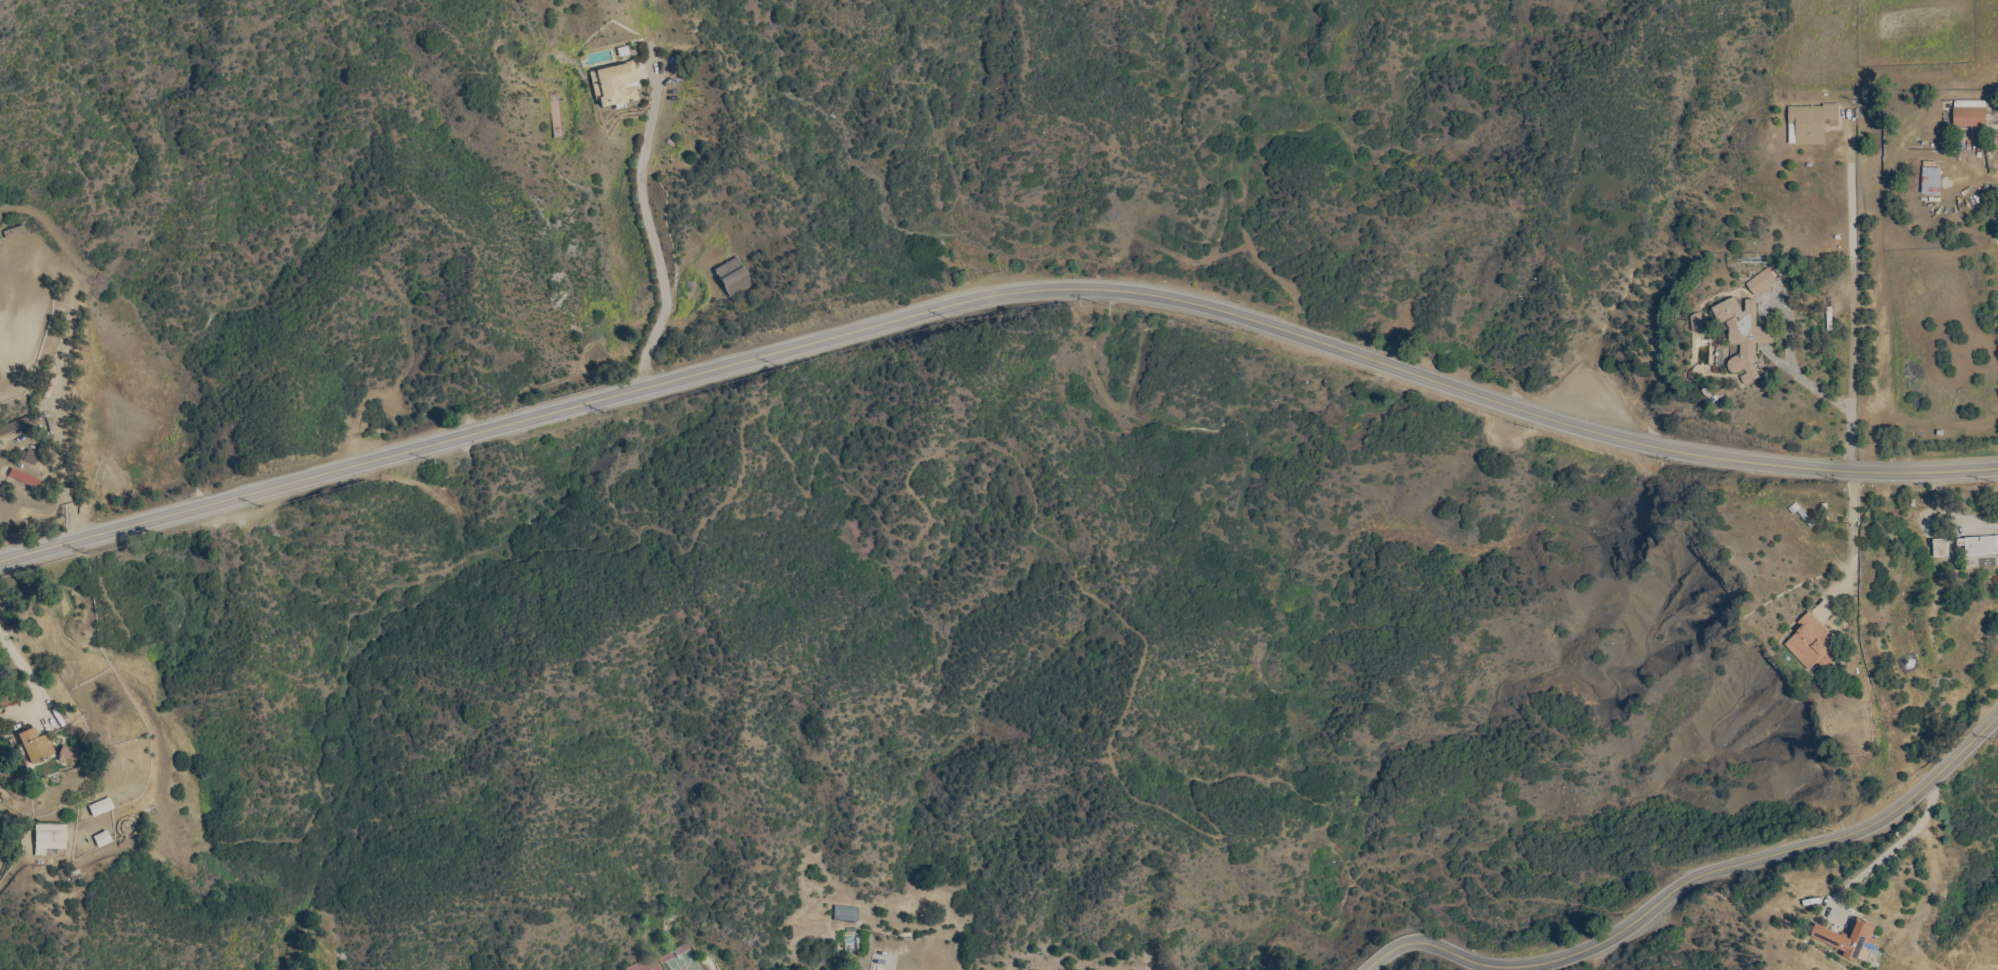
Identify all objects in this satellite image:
building: (615, 85)
building: (1970, 114)
building: (1810, 123)
building: (1931, 179)
road: (647, 218)
building: (1761, 282)
road: (994, 296)
road: (1854, 307)
building: (1830, 320)
building: (1698, 321)
building: (1744, 335)
road: (1795, 373)
building: (14, 428)
road: (58, 440)
building: (30, 458)
road: (839, 473)
building: (24, 478)
building: (1801, 513)
road: (1852, 534)
building: (1980, 546)
building: (1941, 548)
building: (1997, 567)
building: (1814, 644)
road: (28, 675)
building: (34, 746)
building: (67, 756)
building: (3, 794)
building: (99, 807)
building: (50, 838)
building: (101, 839)
road: (1895, 846)
road: (1694, 880)
building: (1851, 940)

